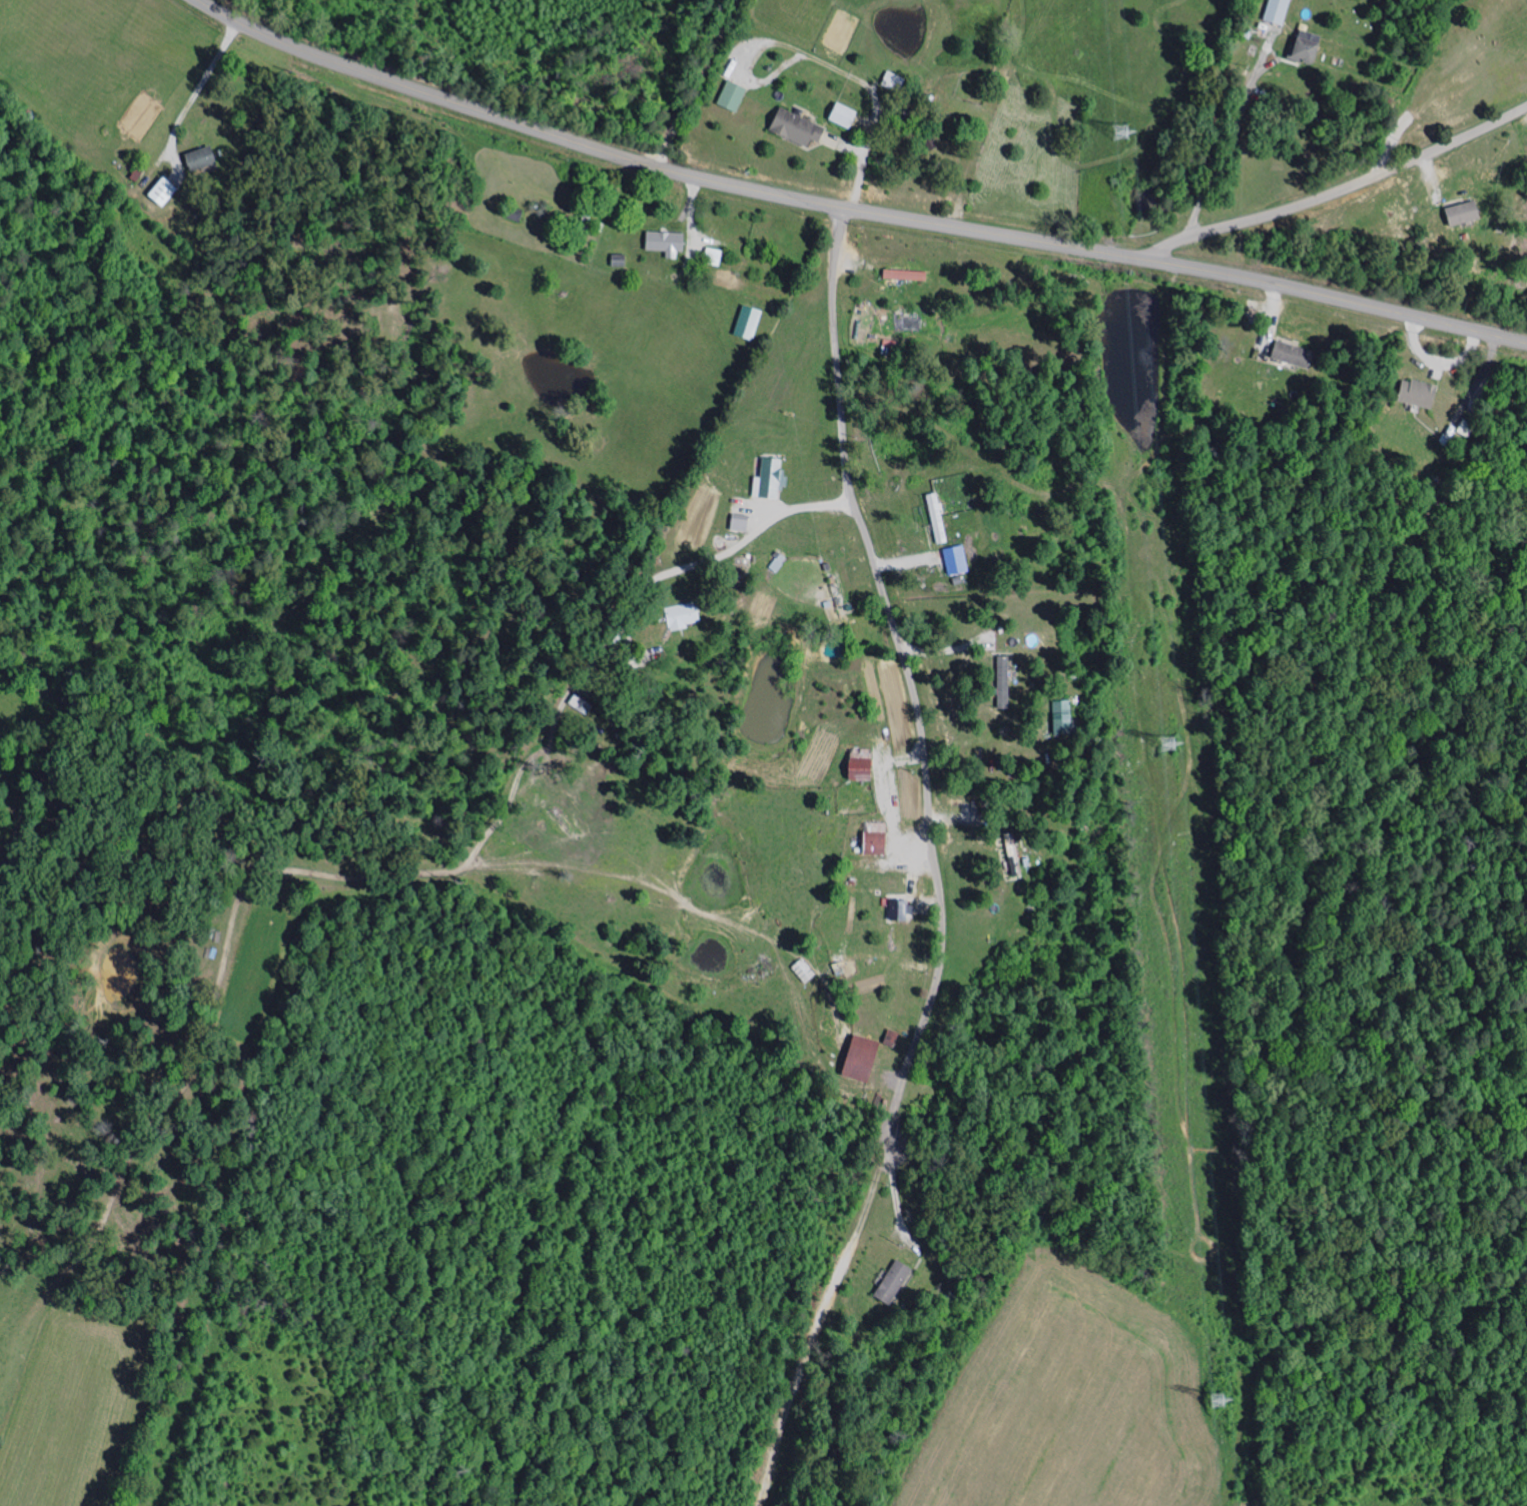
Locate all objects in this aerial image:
building: (1278, 11)
building: (1307, 51)
road: (829, 65)
road: (204, 78)
road: (697, 82)
building: (734, 96)
building: (846, 115)
building: (799, 127)
road: (1225, 158)
building: (164, 191)
road: (1340, 193)
road: (863, 213)
building: (1465, 213)
building: (667, 242)
building: (715, 256)
building: (908, 275)
building: (750, 321)
building: (1294, 355)
building: (1418, 393)
building: (770, 479)
building: (938, 518)
building: (741, 522)
road: (717, 558)
building: (956, 560)
building: (778, 562)
building: (684, 615)
road: (943, 651)
road: (900, 656)
building: (1004, 664)
building: (1063, 719)
building: (863, 764)
building: (878, 839)
building: (900, 910)
building: (863, 1058)
building: (895, 1281)
road: (827, 1304)

